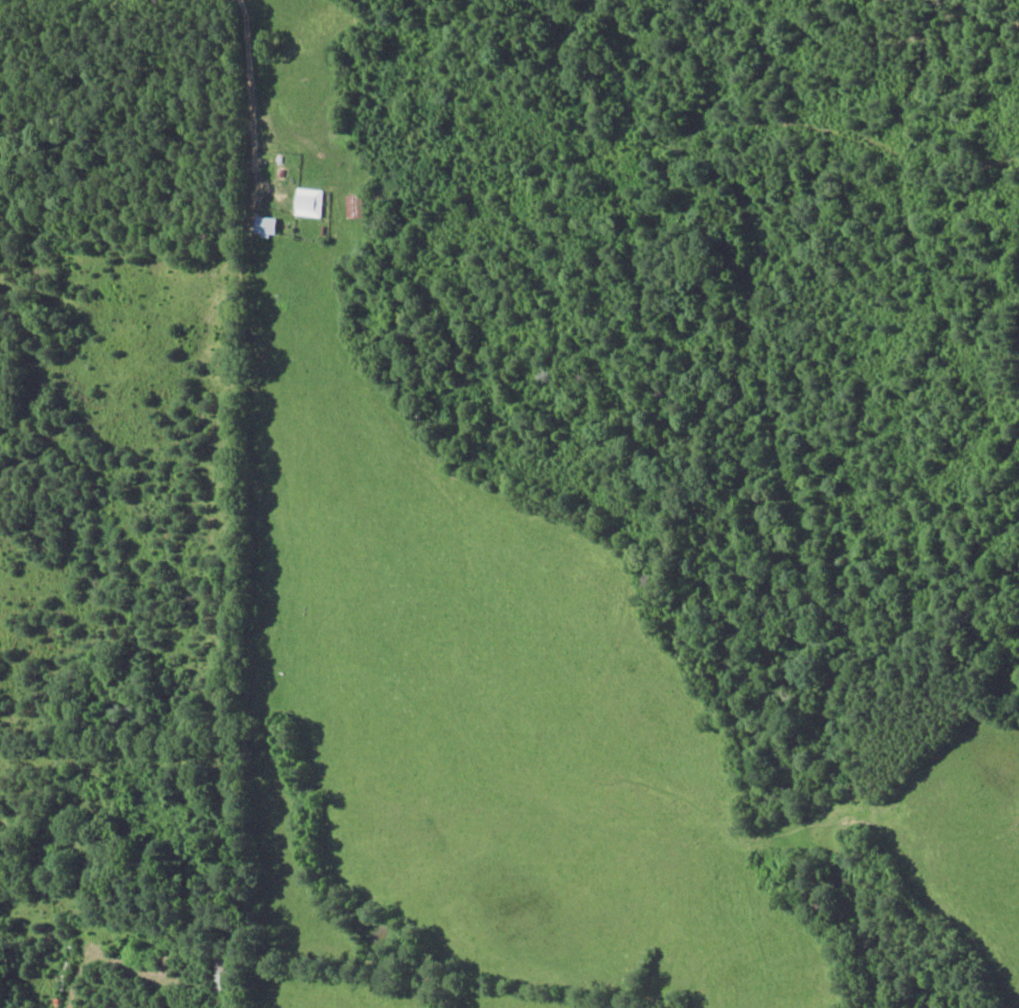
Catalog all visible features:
building: (308, 202)
building: (354, 206)
building: (265, 225)

